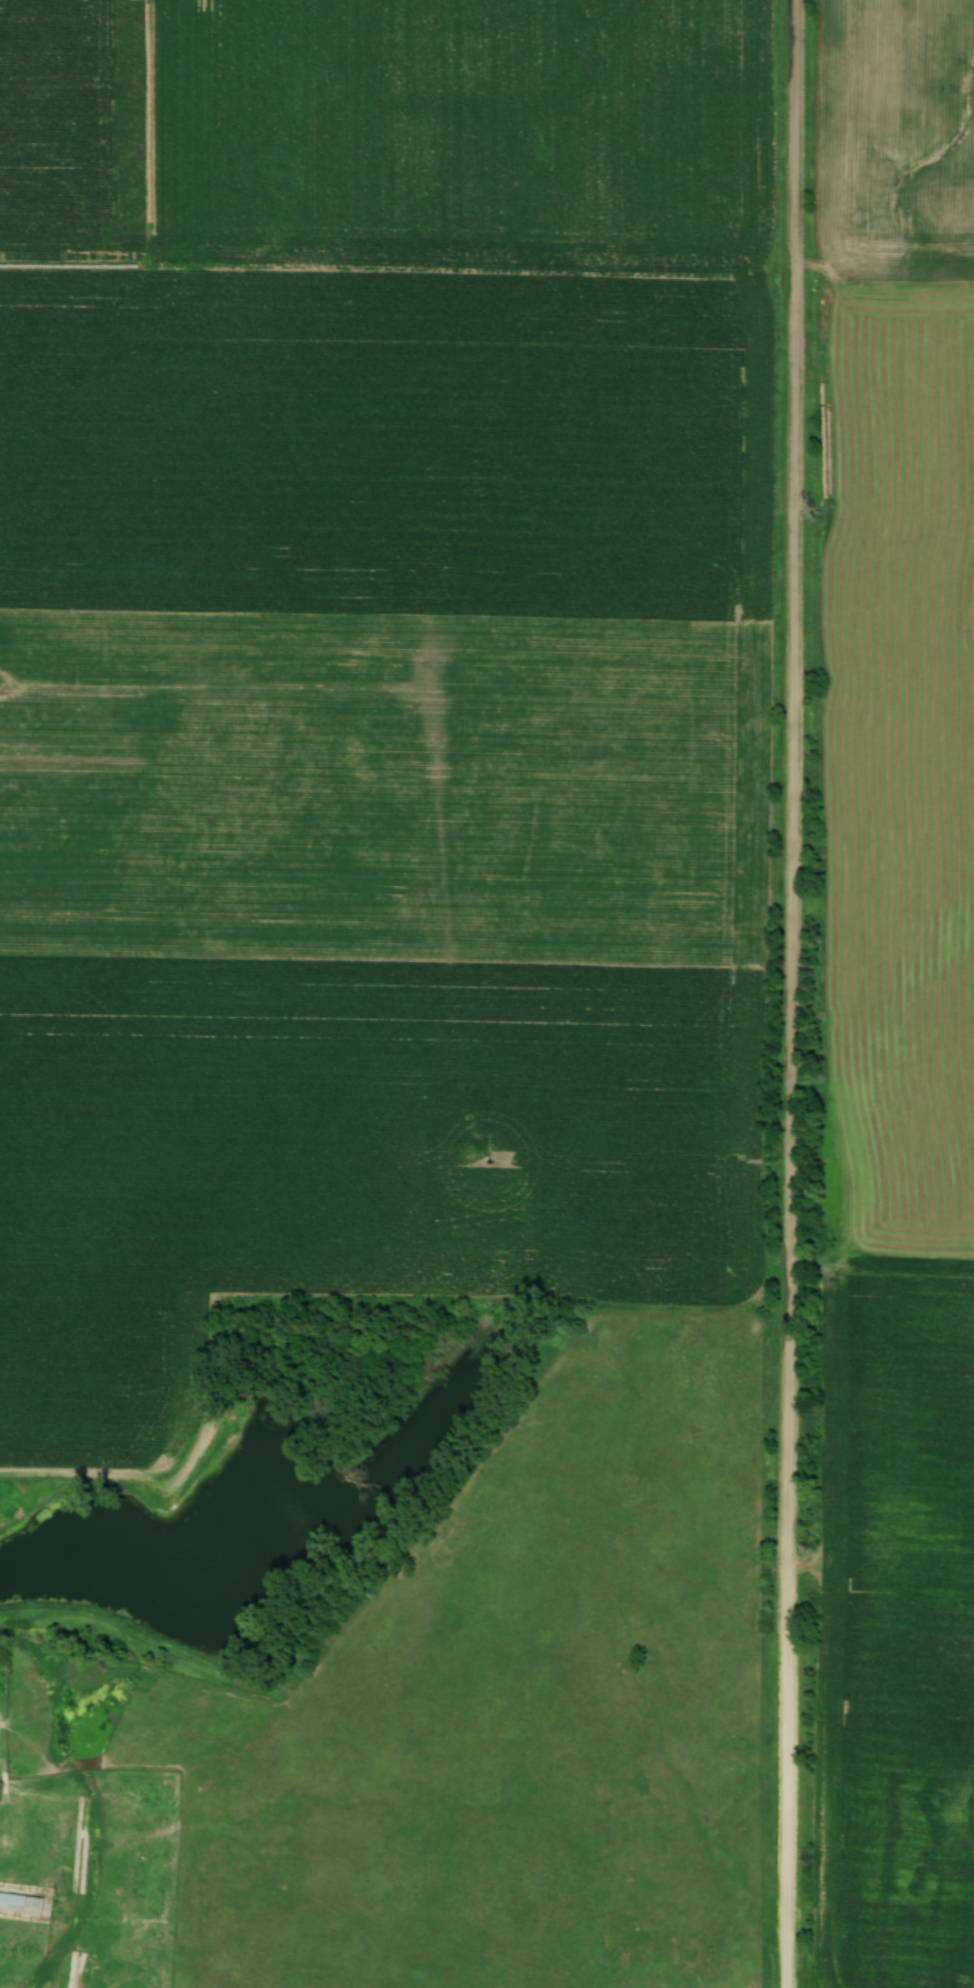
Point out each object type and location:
road: (790, 993)
building: (21, 1903)

